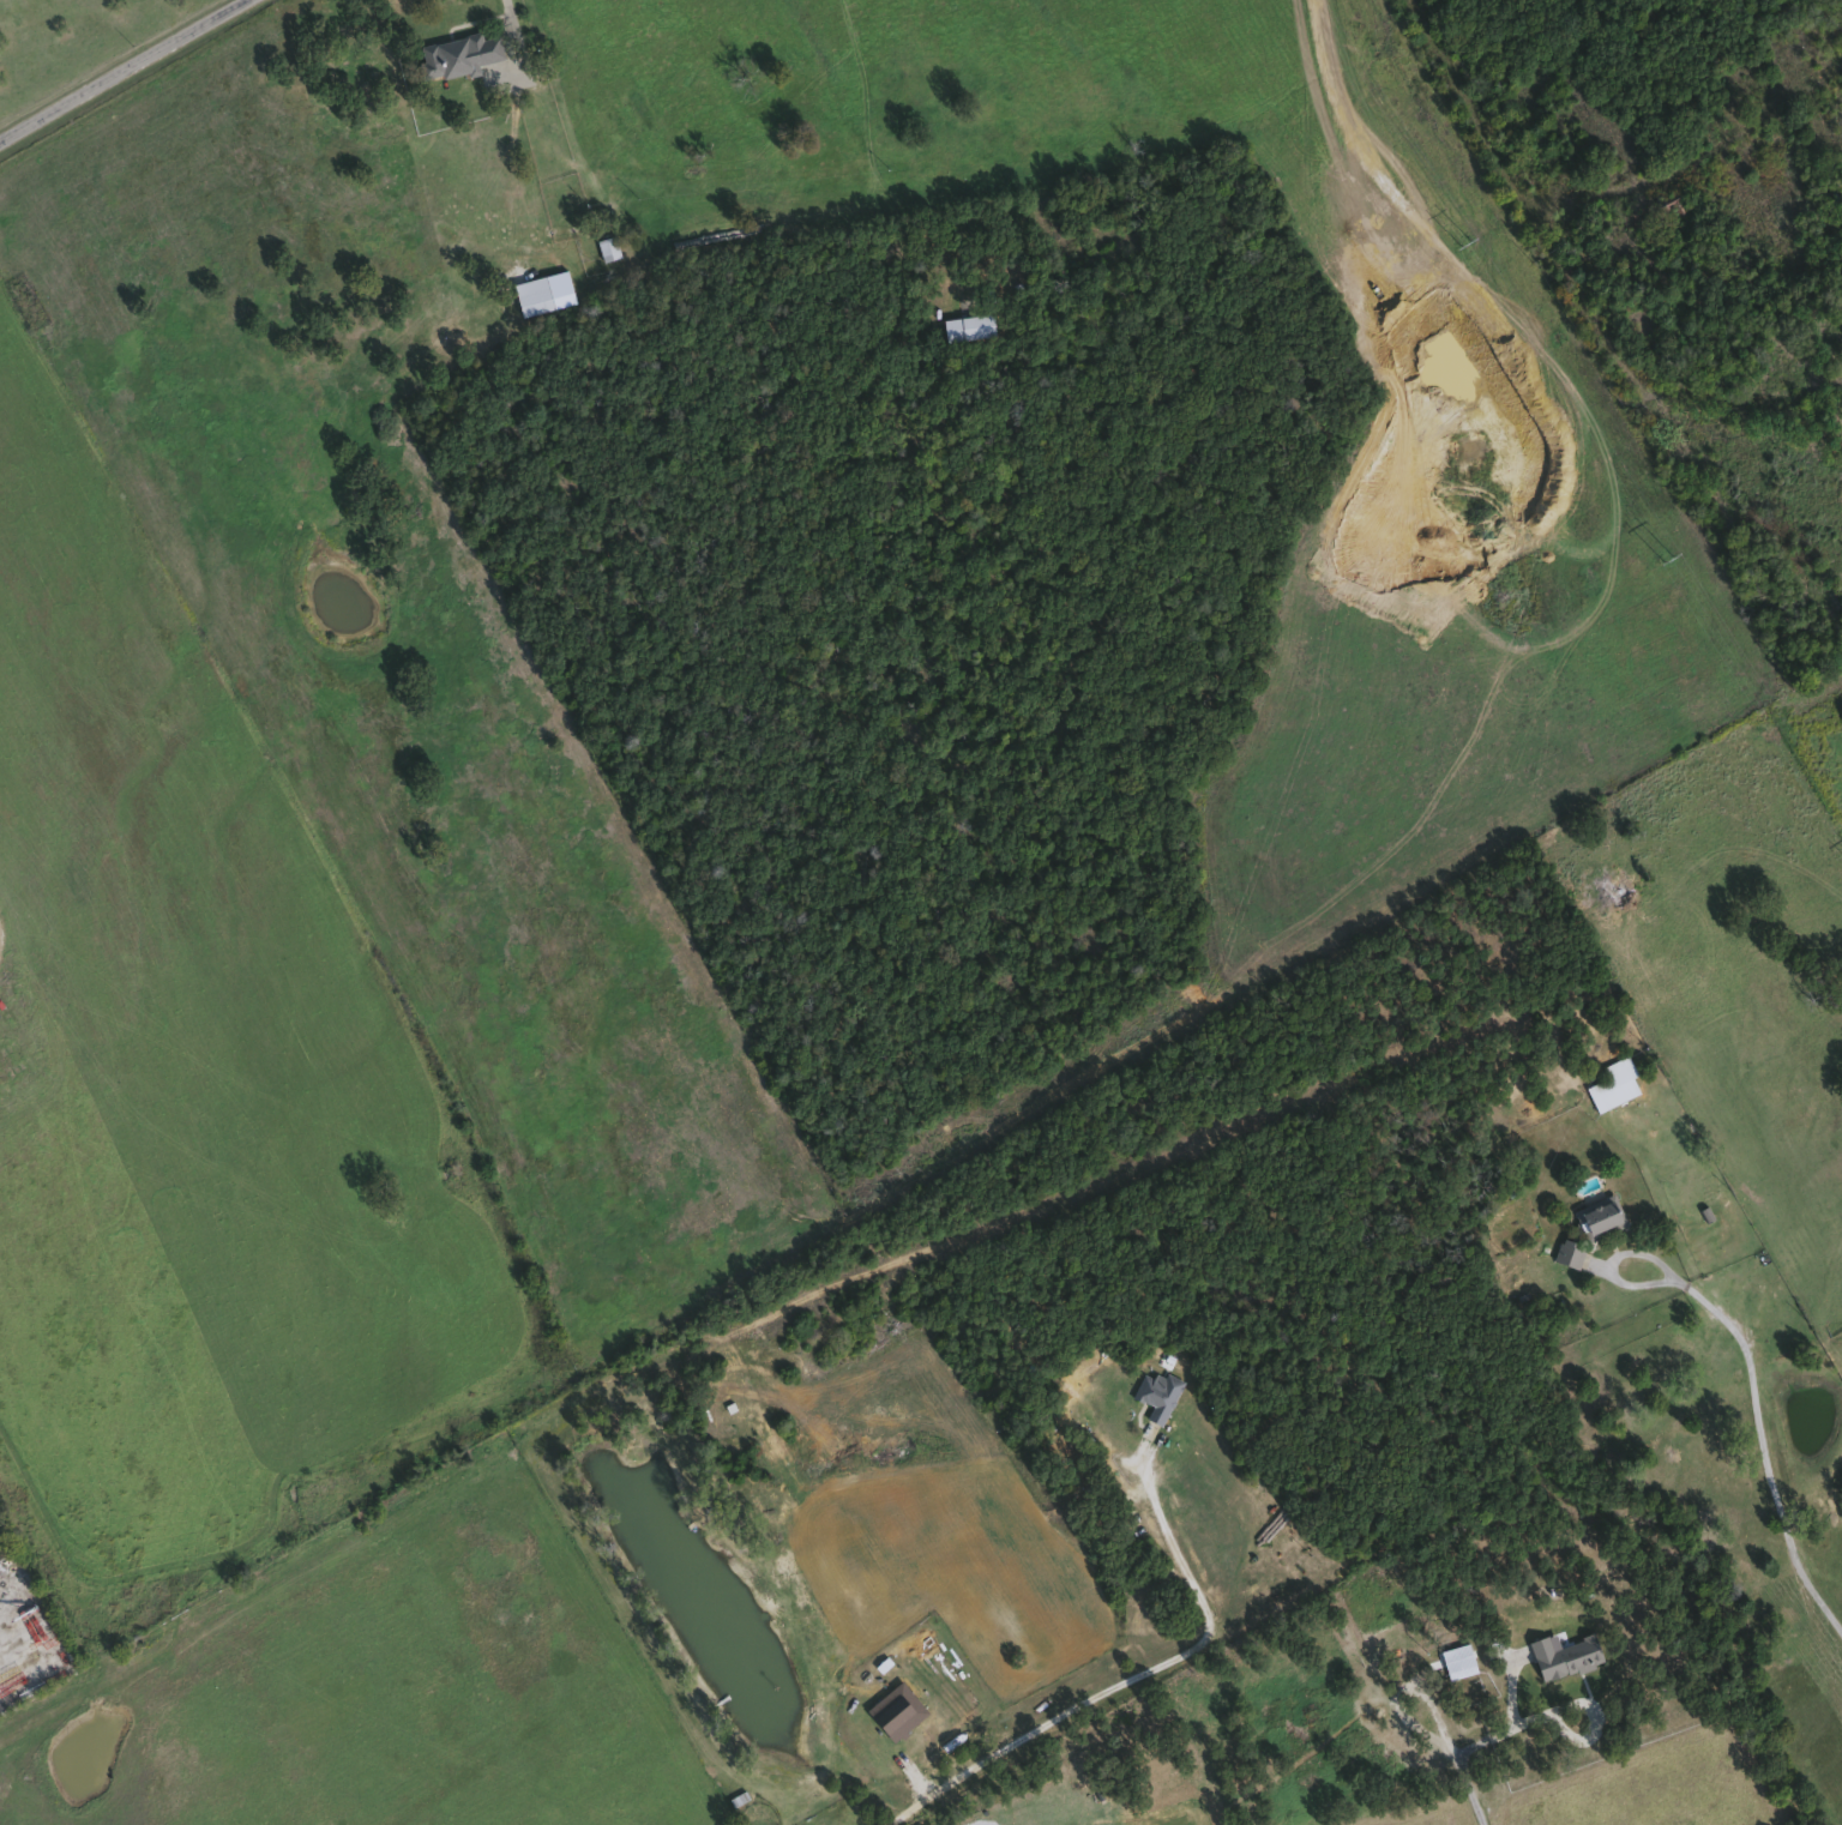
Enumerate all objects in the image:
road: (512, 0)
building: (456, 54)
road: (127, 72)
road: (1487, 205)
building: (606, 248)
building: (531, 300)
building: (965, 326)
building: (1612, 1083)
building: (1599, 1216)
building: (1566, 1253)
road: (1615, 1258)
building: (1156, 1393)
road: (1766, 1448)
building: (1456, 1661)
road: (1119, 1680)
road: (1483, 1737)

